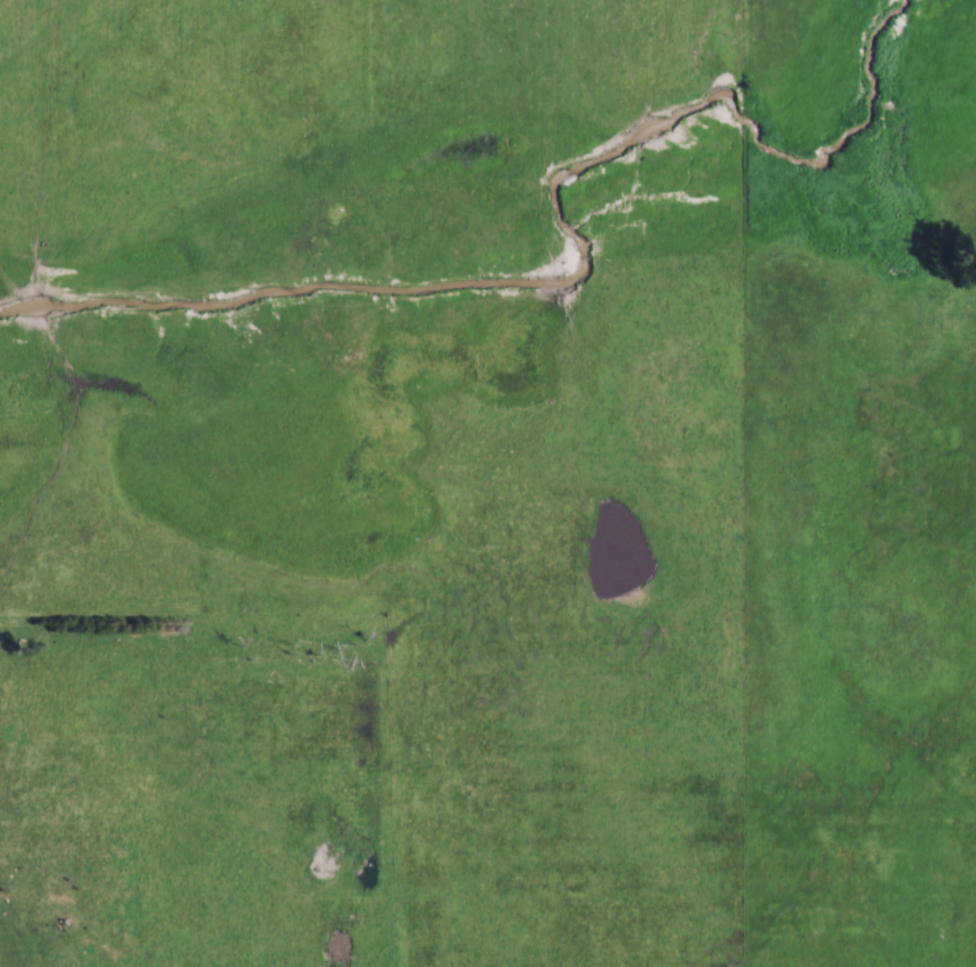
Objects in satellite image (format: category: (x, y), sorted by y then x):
river: (580, 249)

